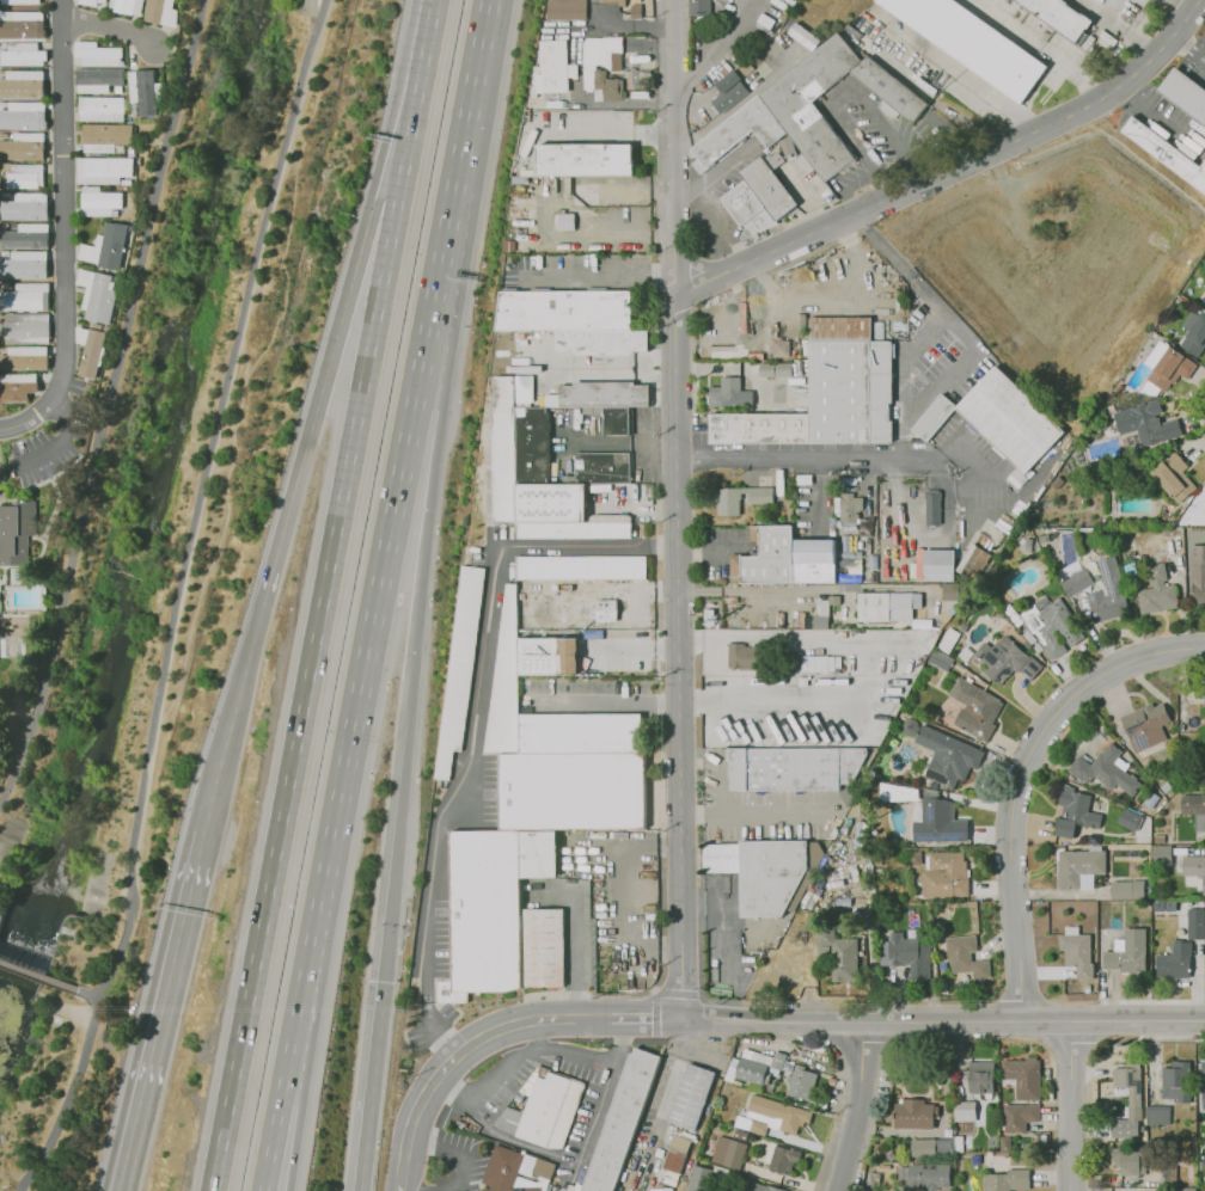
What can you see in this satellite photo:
building: (20, 1)
building: (612, 1)
building: (88, 4)
road: (1185, 5)
building: (123, 6)
building: (701, 8)
building: (568, 10)
road: (1107, 10)
building: (153, 11)
building: (1062, 18)
road: (1007, 22)
road: (1114, 27)
building: (22, 29)
road: (108, 30)
building: (1204, 32)
building: (802, 36)
building: (974, 44)
road: (1188, 48)
building: (96, 49)
building: (24, 59)
building: (604, 68)
road: (1072, 69)
building: (555, 74)
building: (98, 78)
building: (20, 87)
road: (416, 88)
road: (61, 91)
building: (137, 91)
building: (727, 91)
road: (471, 92)
building: (1185, 94)
road: (1001, 104)
building: (811, 109)
building: (98, 110)
building: (23, 119)
building: (105, 134)
road: (600, 135)
road: (889, 139)
road: (850, 140)
road: (671, 148)
building: (22, 151)
building: (1166, 153)
building: (583, 161)
building: (105, 167)
road: (954, 170)
building: (18, 179)
road: (387, 188)
road: (845, 188)
building: (100, 197)
building: (760, 197)
building: (23, 207)
road: (716, 216)
building: (564, 221)
building: (23, 239)
building: (112, 244)
building: (23, 265)
road: (598, 275)
road: (436, 278)
building: (1204, 286)
road: (825, 294)
building: (100, 296)
building: (1204, 299)
building: (25, 301)
road: (935, 311)
building: (576, 319)
road: (62, 323)
building: (25, 331)
building: (1194, 334)
building: (779, 348)
building: (88, 354)
building: (22, 356)
road: (608, 366)
building: (773, 369)
building: (1166, 369)
road: (941, 382)
road: (246, 385)
building: (16, 389)
building: (830, 393)
building: (730, 394)
building: (604, 395)
road: (106, 401)
building: (935, 418)
building: (1011, 419)
building: (616, 422)
building: (1148, 424)
road: (61, 436)
building: (533, 444)
building: (502, 446)
parking lot: (37, 459)
road: (808, 459)
building: (602, 468)
building: (1093, 468)
building: (1173, 478)
road: (394, 499)
building: (740, 499)
road: (634, 505)
building: (931, 507)
building: (849, 510)
road: (289, 514)
building: (574, 530)
building: (17, 534)
road: (424, 539)
building: (1130, 554)
building: (767, 555)
building: (815, 560)
building: (972, 561)
building: (582, 569)
building: (1128, 569)
building: (941, 573)
building: (1197, 575)
building: (1077, 583)
building: (579, 588)
building: (1157, 590)
building: (1108, 594)
road: (177, 600)
building: (888, 606)
building: (526, 609)
building: (604, 610)
building: (1047, 624)
building: (557, 628)
road: (316, 630)
building: (1029, 637)
road: (788, 640)
building: (1027, 645)
building: (1038, 647)
road: (1198, 647)
building: (549, 657)
road: (678, 658)
building: (752, 658)
building: (938, 659)
building: (1007, 661)
building: (460, 668)
building: (504, 683)
building: (1204, 695)
road: (698, 696)
building: (975, 708)
road: (473, 723)
building: (1146, 728)
building: (1181, 728)
building: (581, 733)
building: (947, 756)
building: (795, 769)
building: (1106, 771)
road: (1016, 786)
building: (1166, 786)
building: (573, 792)
building: (904, 793)
building: (1117, 794)
parking lot: (764, 809)
building: (1194, 810)
building: (1075, 812)
road: (758, 814)
building: (1130, 819)
building: (938, 823)
building: (1158, 839)
road: (330, 845)
road: (393, 846)
building: (813, 854)
building: (539, 855)
building: (1161, 855)
building: (913, 858)
building: (1194, 867)
building: (1079, 868)
building: (761, 873)
building: (946, 874)
building: (1127, 890)
road: (622, 895)
building: (484, 916)
building: (1195, 923)
road: (573, 939)
building: (545, 950)
building: (1077, 952)
building: (1128, 953)
building: (840, 954)
building: (905, 954)
building: (966, 957)
building: (1175, 960)
building: (940, 974)
building: (617, 975)
road: (38, 976)
traffic signals: (383, 981)
road: (86, 994)
road: (68, 1007)
road: (165, 1011)
road: (570, 1018)
road: (646, 1019)
road: (942, 1021)
road: (532, 1036)
road: (1146, 1039)
road: (512, 1057)
building: (751, 1069)
building: (981, 1078)
building: (1023, 1078)
road: (433, 1080)
building: (1176, 1081)
building: (801, 1082)
building: (1203, 1082)
road: (369, 1086)
building: (1128, 1088)
parking lot: (484, 1093)
building: (692, 1097)
road: (665, 1103)
road: (597, 1104)
road: (856, 1106)
road: (1075, 1106)
building: (543, 1107)
building: (965, 1111)
building: (777, 1113)
building: (915, 1115)
building: (1158, 1116)
building: (1019, 1117)
building: (620, 1121)
road: (273, 1124)
building: (751, 1124)
road: (298, 1125)
building: (740, 1135)
road: (221, 1137)
road: (805, 1142)
building: (958, 1144)
building: (1005, 1144)
building: (931, 1147)
building: (728, 1152)
road: (449, 1154)
building: (675, 1154)
building: (1172, 1154)
building: (889, 1155)
building: (781, 1159)
building: (1132, 1160)
building: (514, 1171)
building: (929, 1175)
building: (1173, 1178)
building: (873, 1179)
building: (701, 1180)
building: (1008, 1180)
building: (753, 1186)
building: (1186, 1190)

